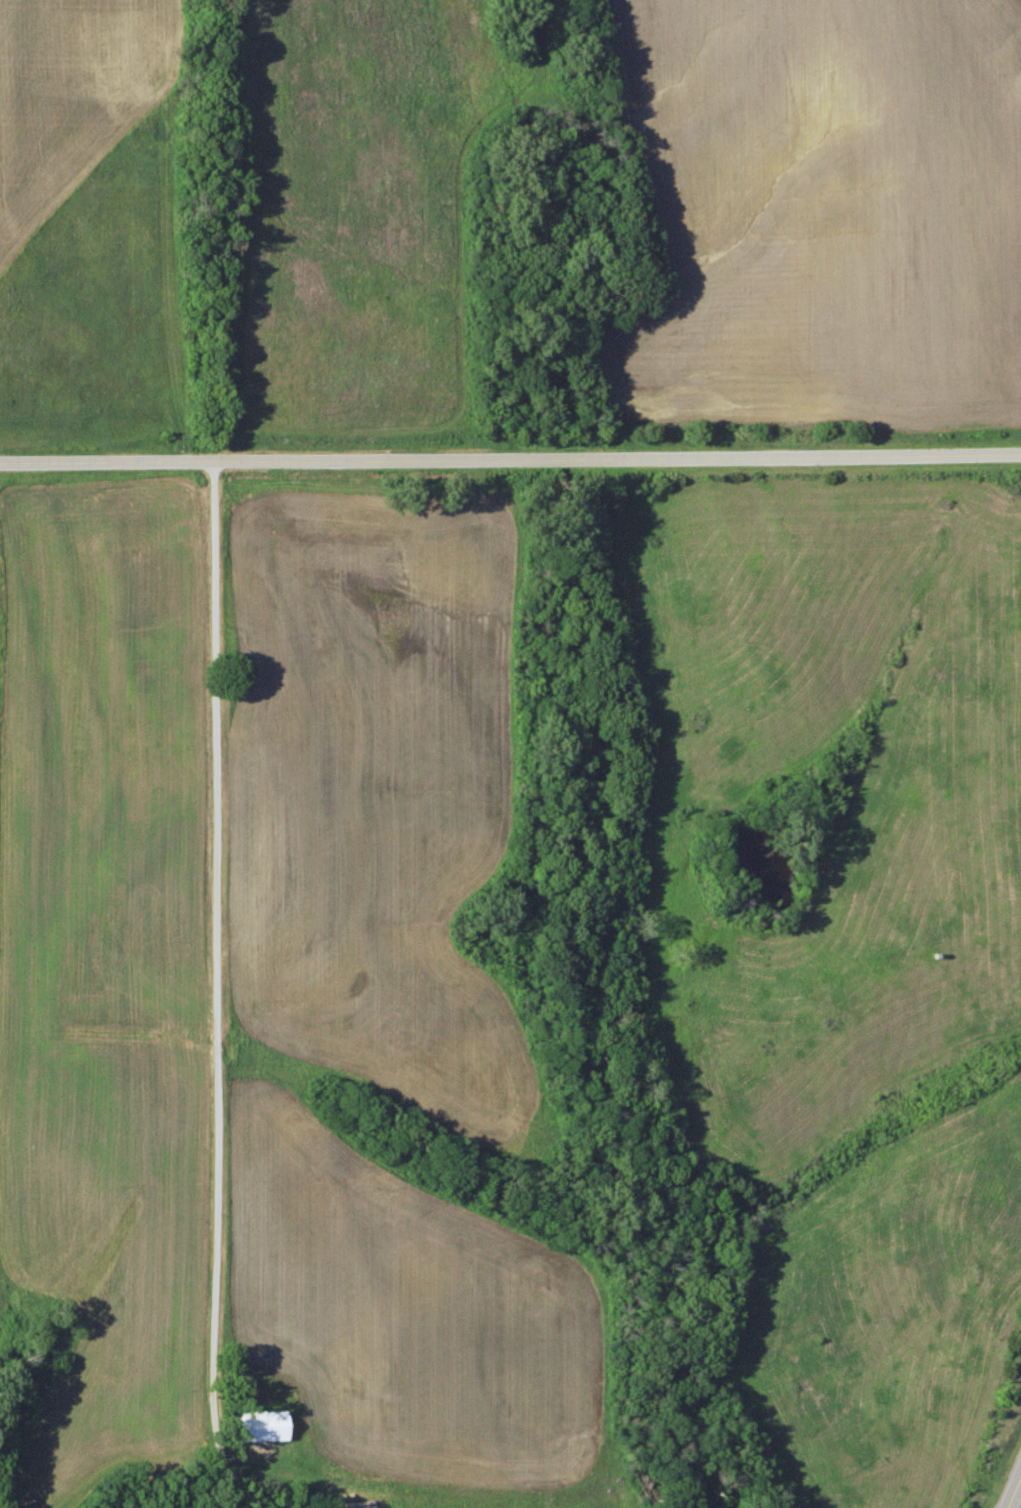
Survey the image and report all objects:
road: (510, 460)
road: (217, 999)
building: (262, 1425)
road: (1014, 1494)

